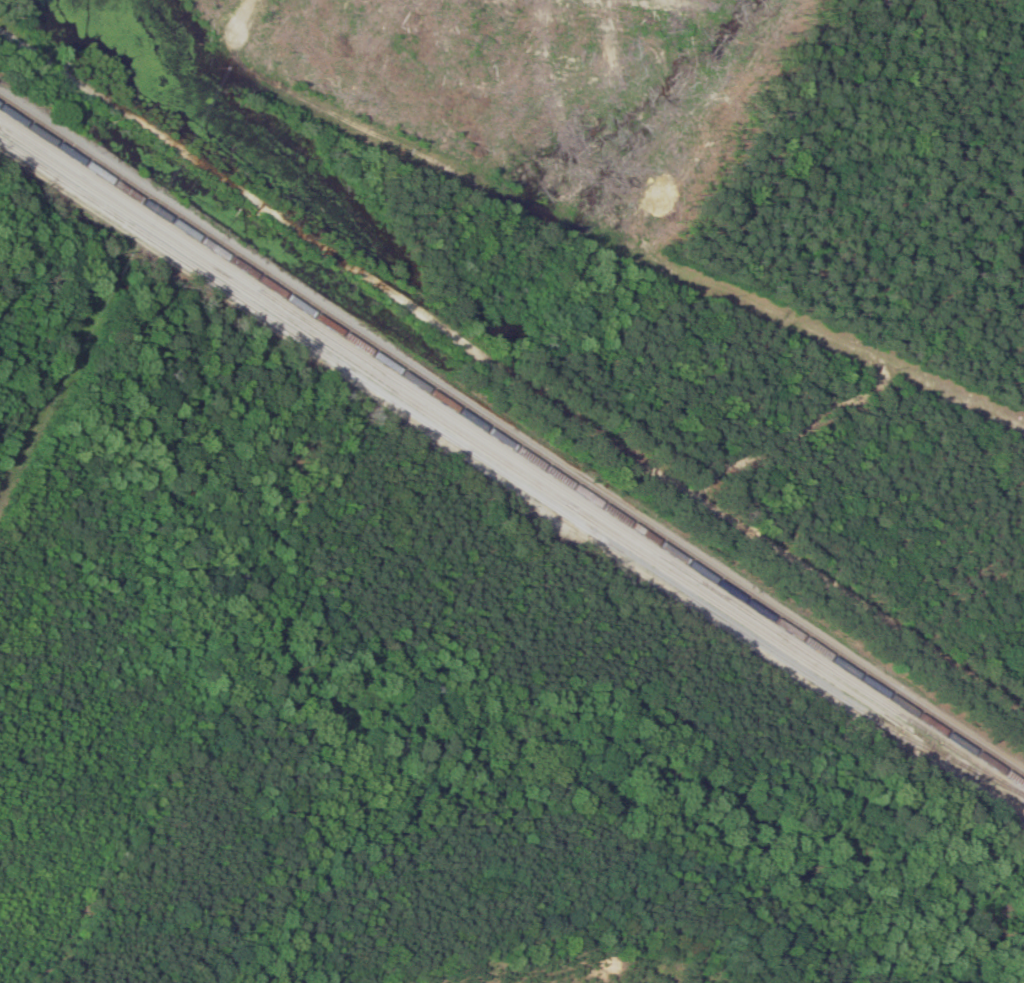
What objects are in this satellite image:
railway: (512, 434)
railway: (512, 444)
railway: (483, 447)
railway: (511, 455)
railway: (506, 475)

